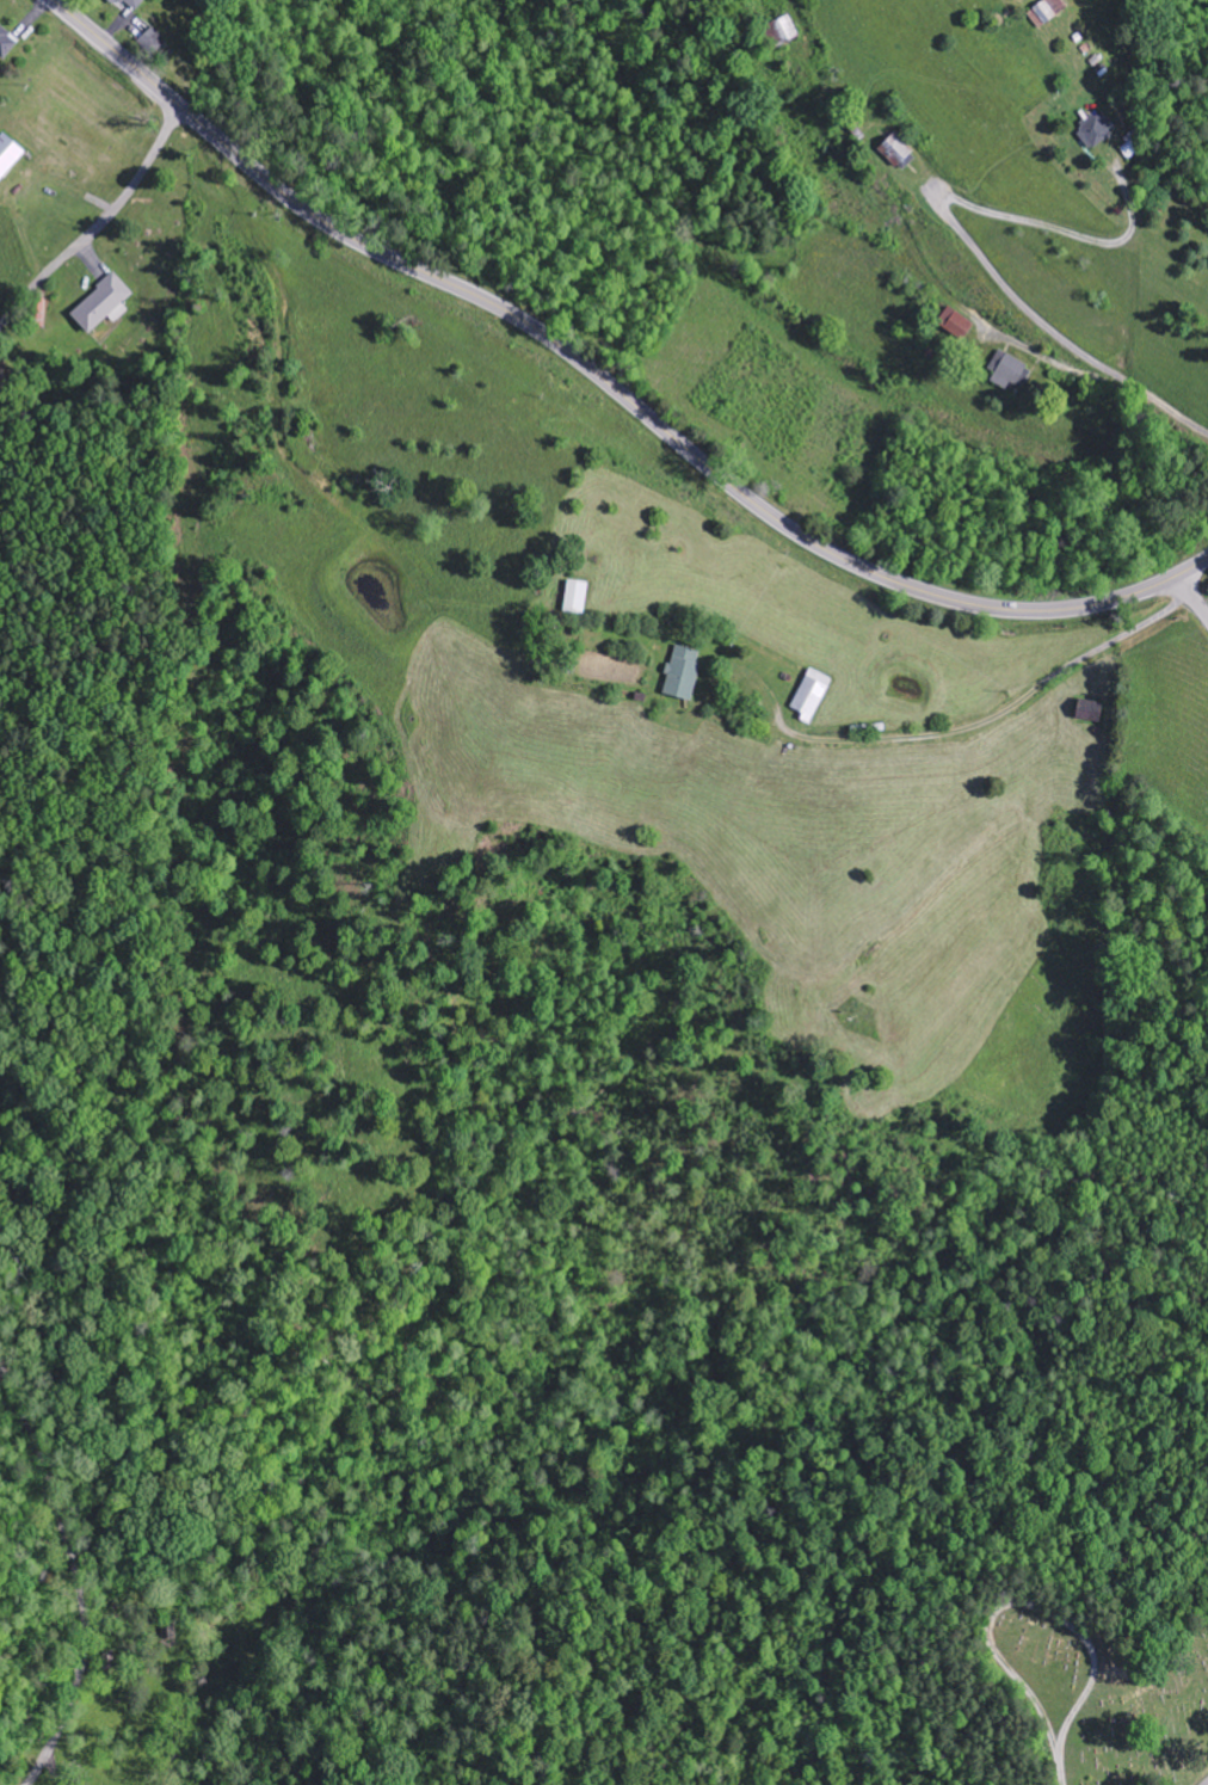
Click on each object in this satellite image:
building: (132, 4)
building: (1048, 13)
building: (7, 43)
building: (154, 43)
building: (1097, 131)
building: (899, 154)
building: (8, 156)
road: (99, 223)
building: (105, 304)
building: (957, 324)
road: (1077, 351)
building: (1010, 371)
road: (608, 383)
building: (579, 597)
road: (1188, 598)
building: (685, 673)
building: (813, 695)
building: (1091, 712)
road: (72, 1578)
road: (1207, 1784)

